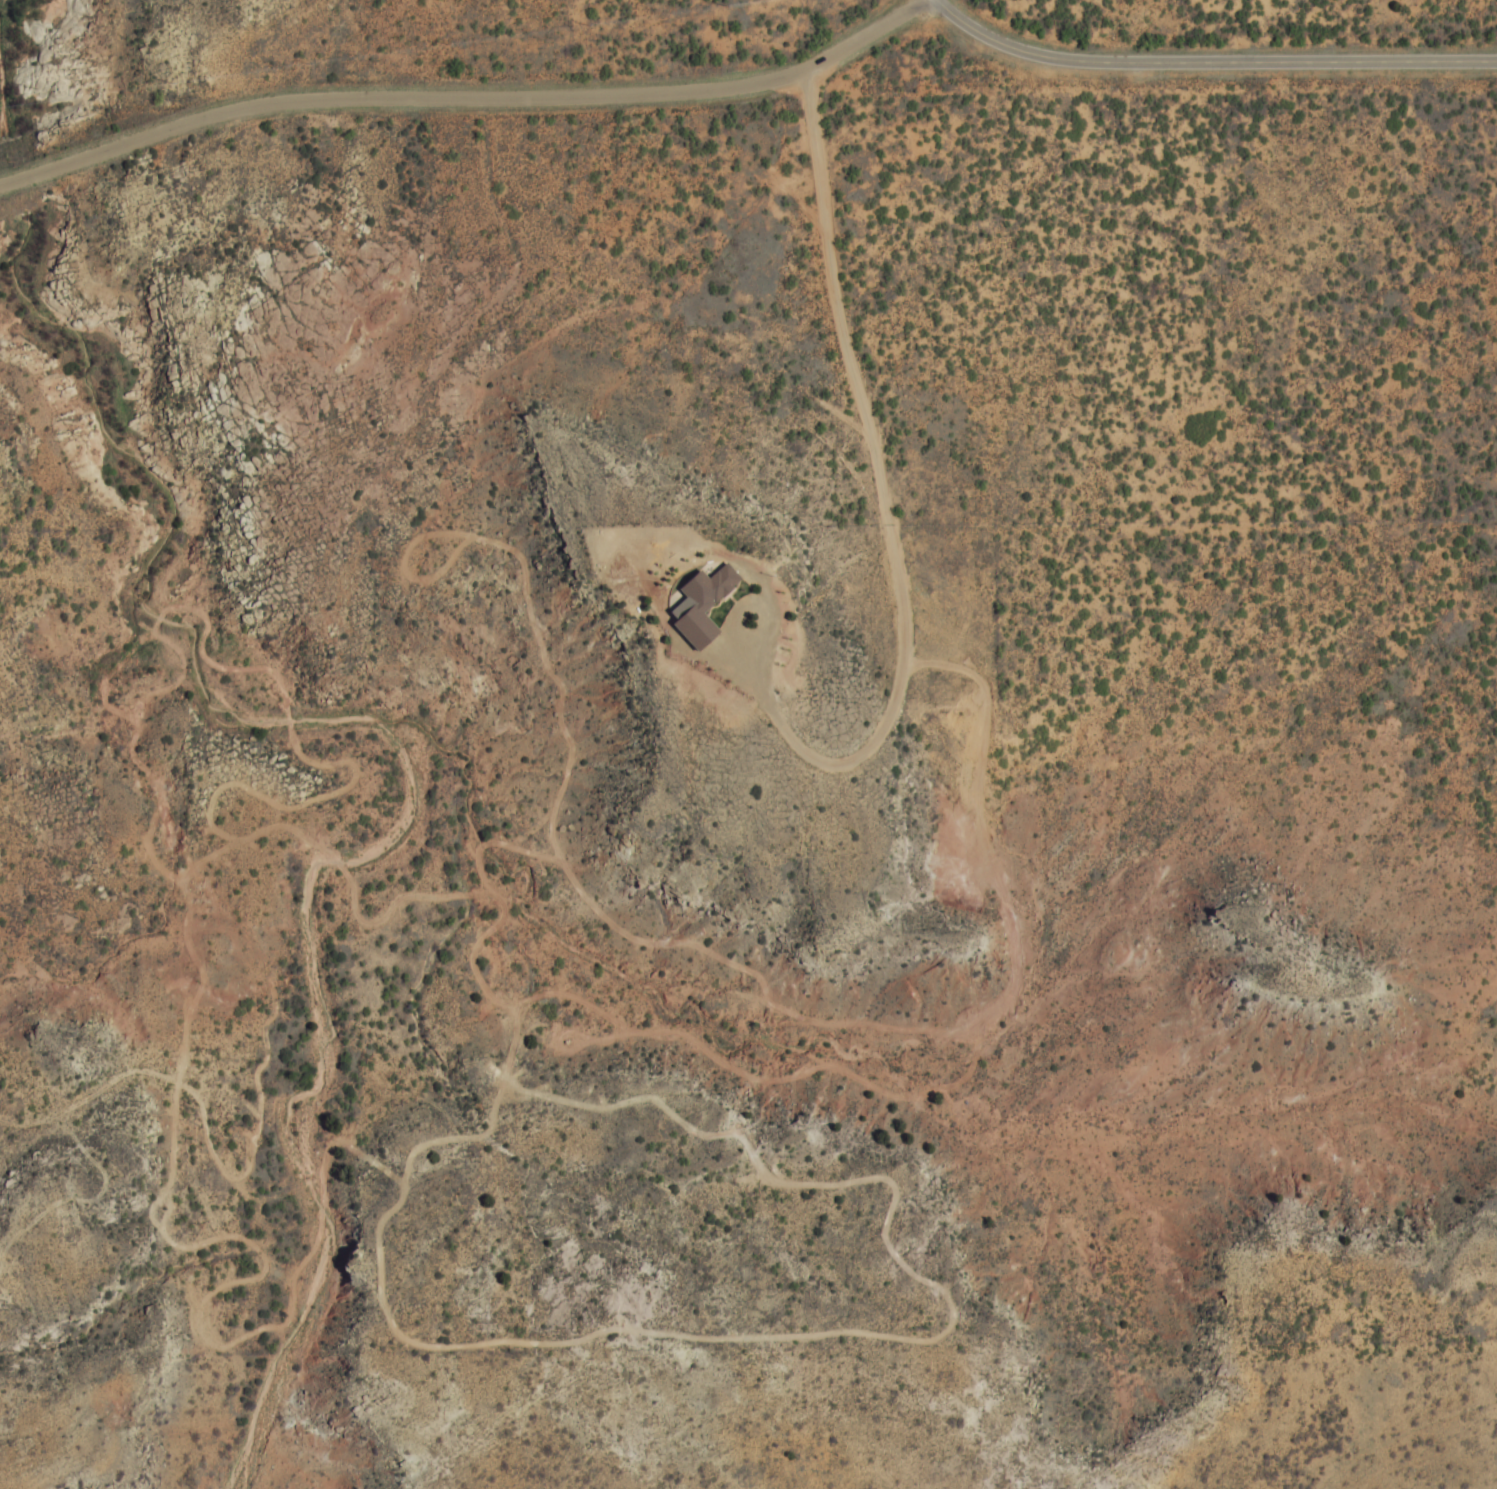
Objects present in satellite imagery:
road: (1207, 64)
road: (465, 98)
road: (1056, 507)
building: (711, 588)

